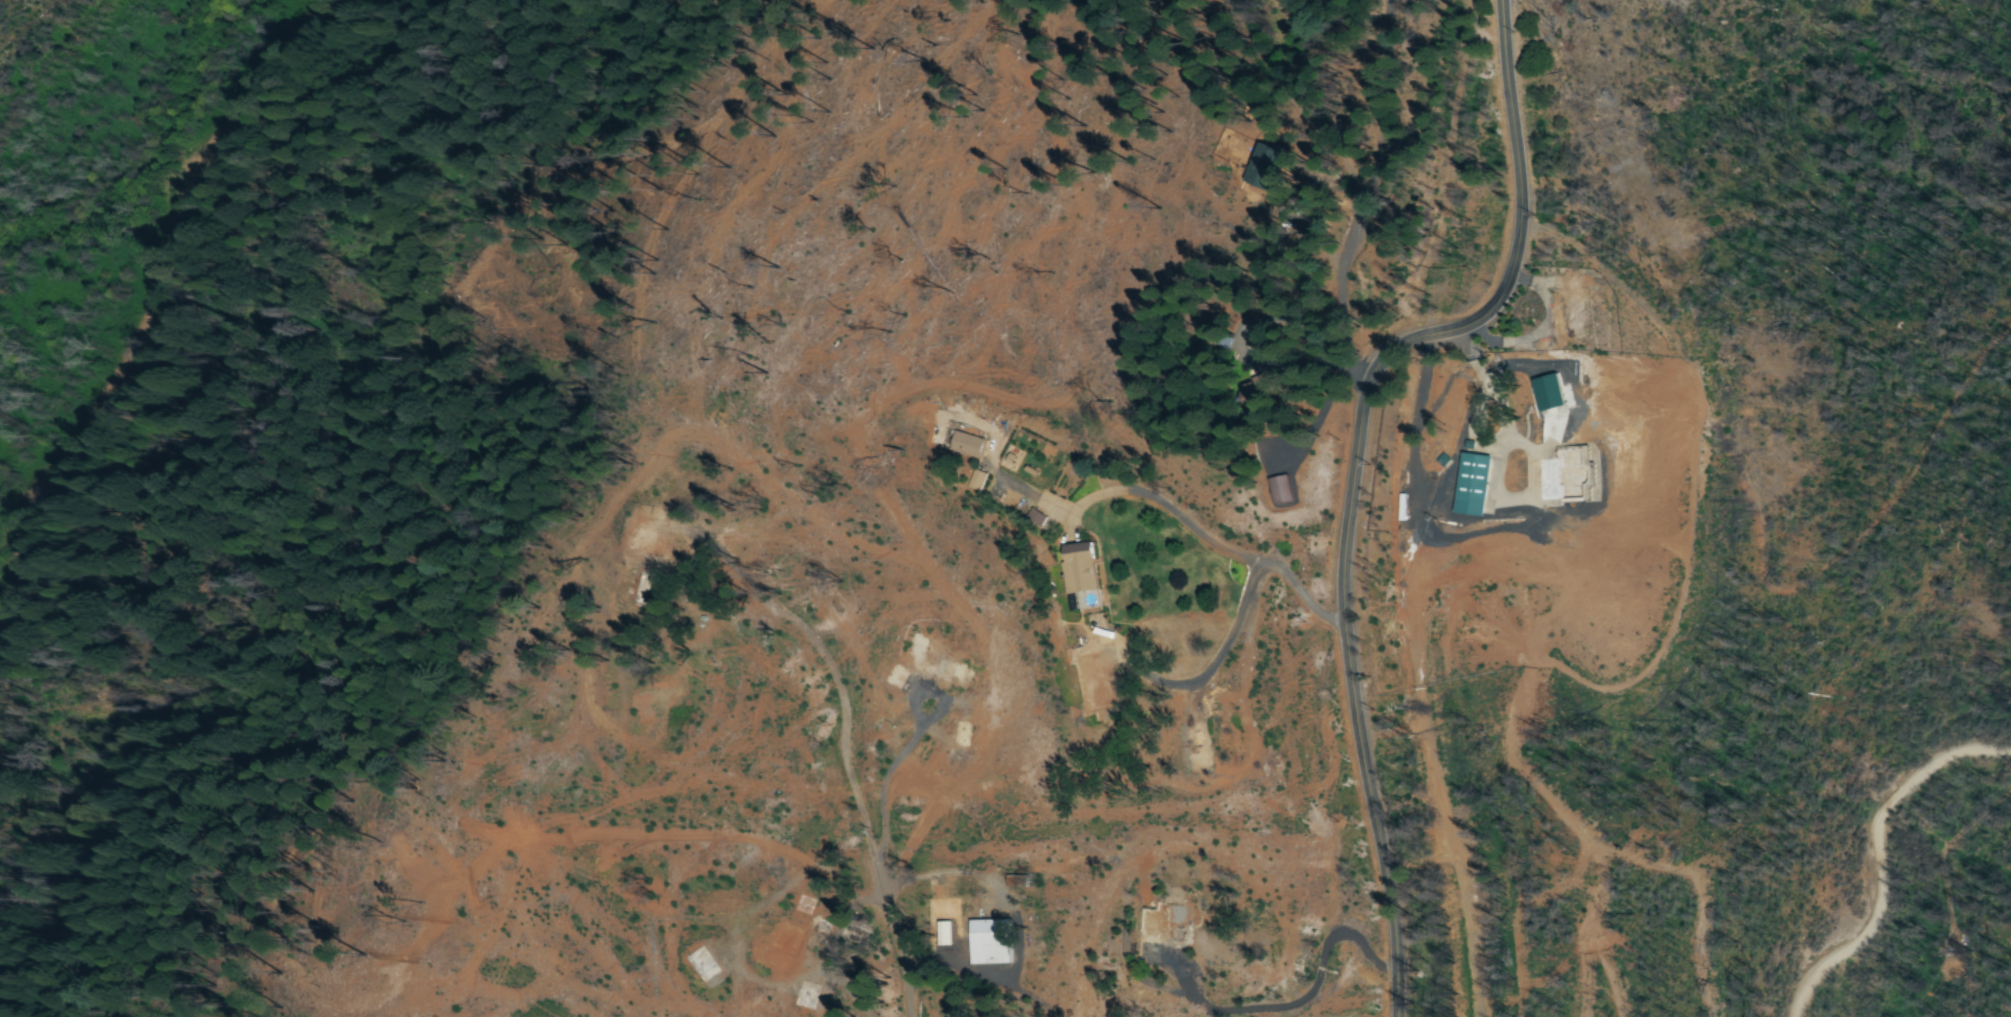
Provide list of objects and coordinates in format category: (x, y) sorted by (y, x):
road: (1381, 116)
road: (1447, 252)
road: (1355, 469)
building: (1477, 486)
building: (1082, 574)
road: (1456, 817)
road: (1877, 859)

